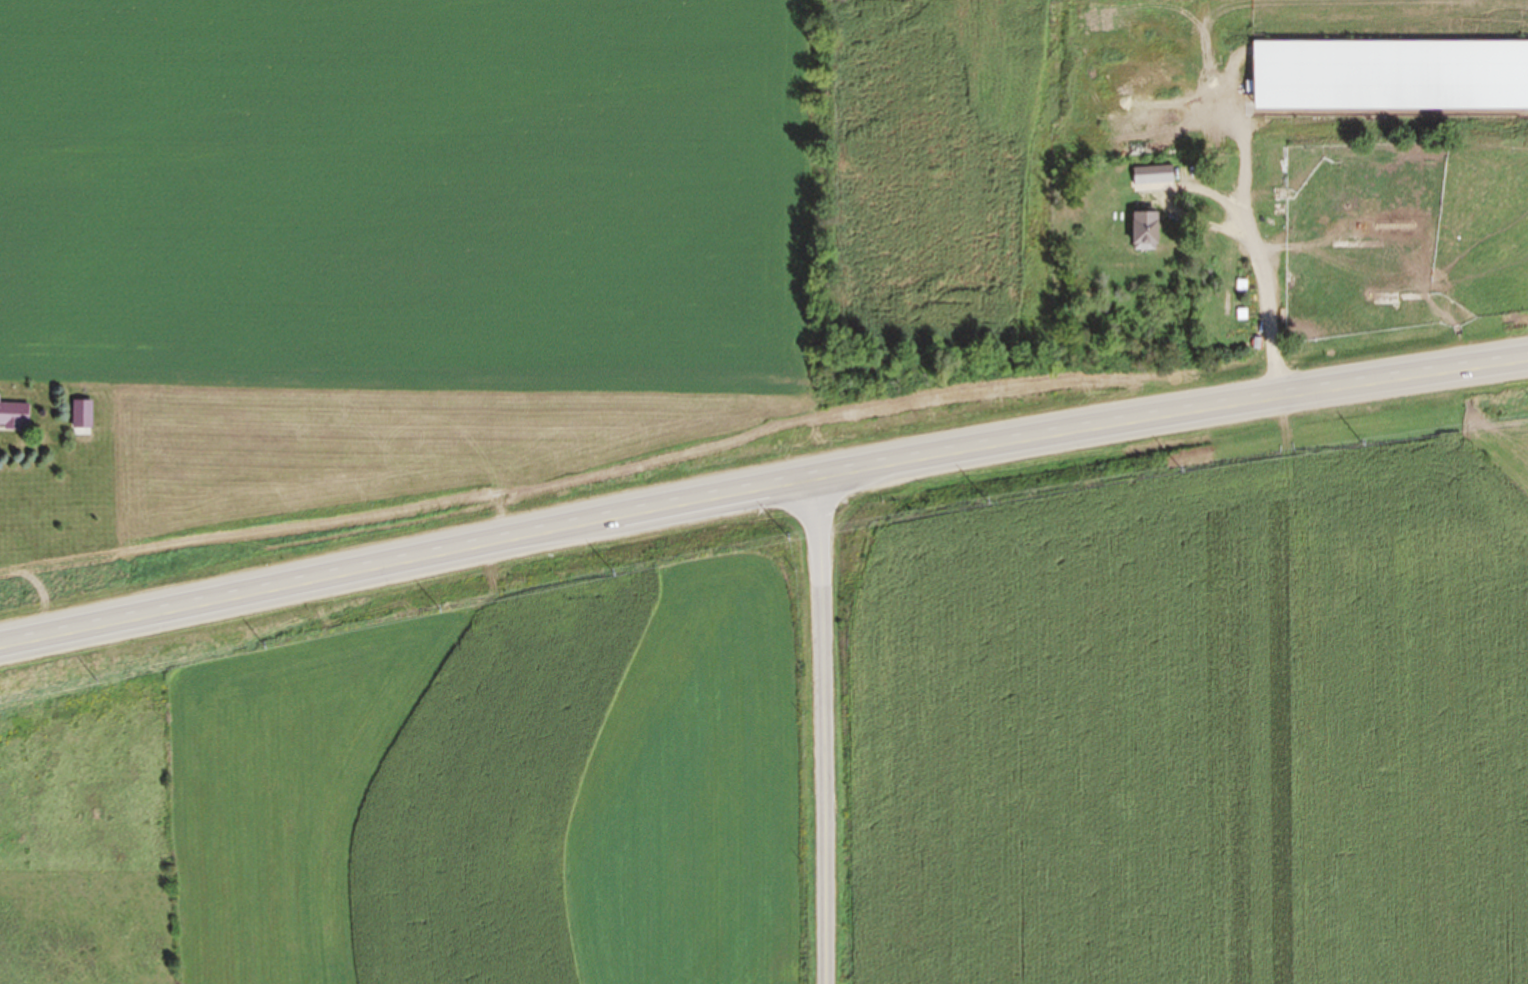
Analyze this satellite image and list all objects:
building: (1385, 177)
road: (1244, 230)
building: (1149, 232)
building: (15, 414)
road: (761, 491)
road: (820, 732)

